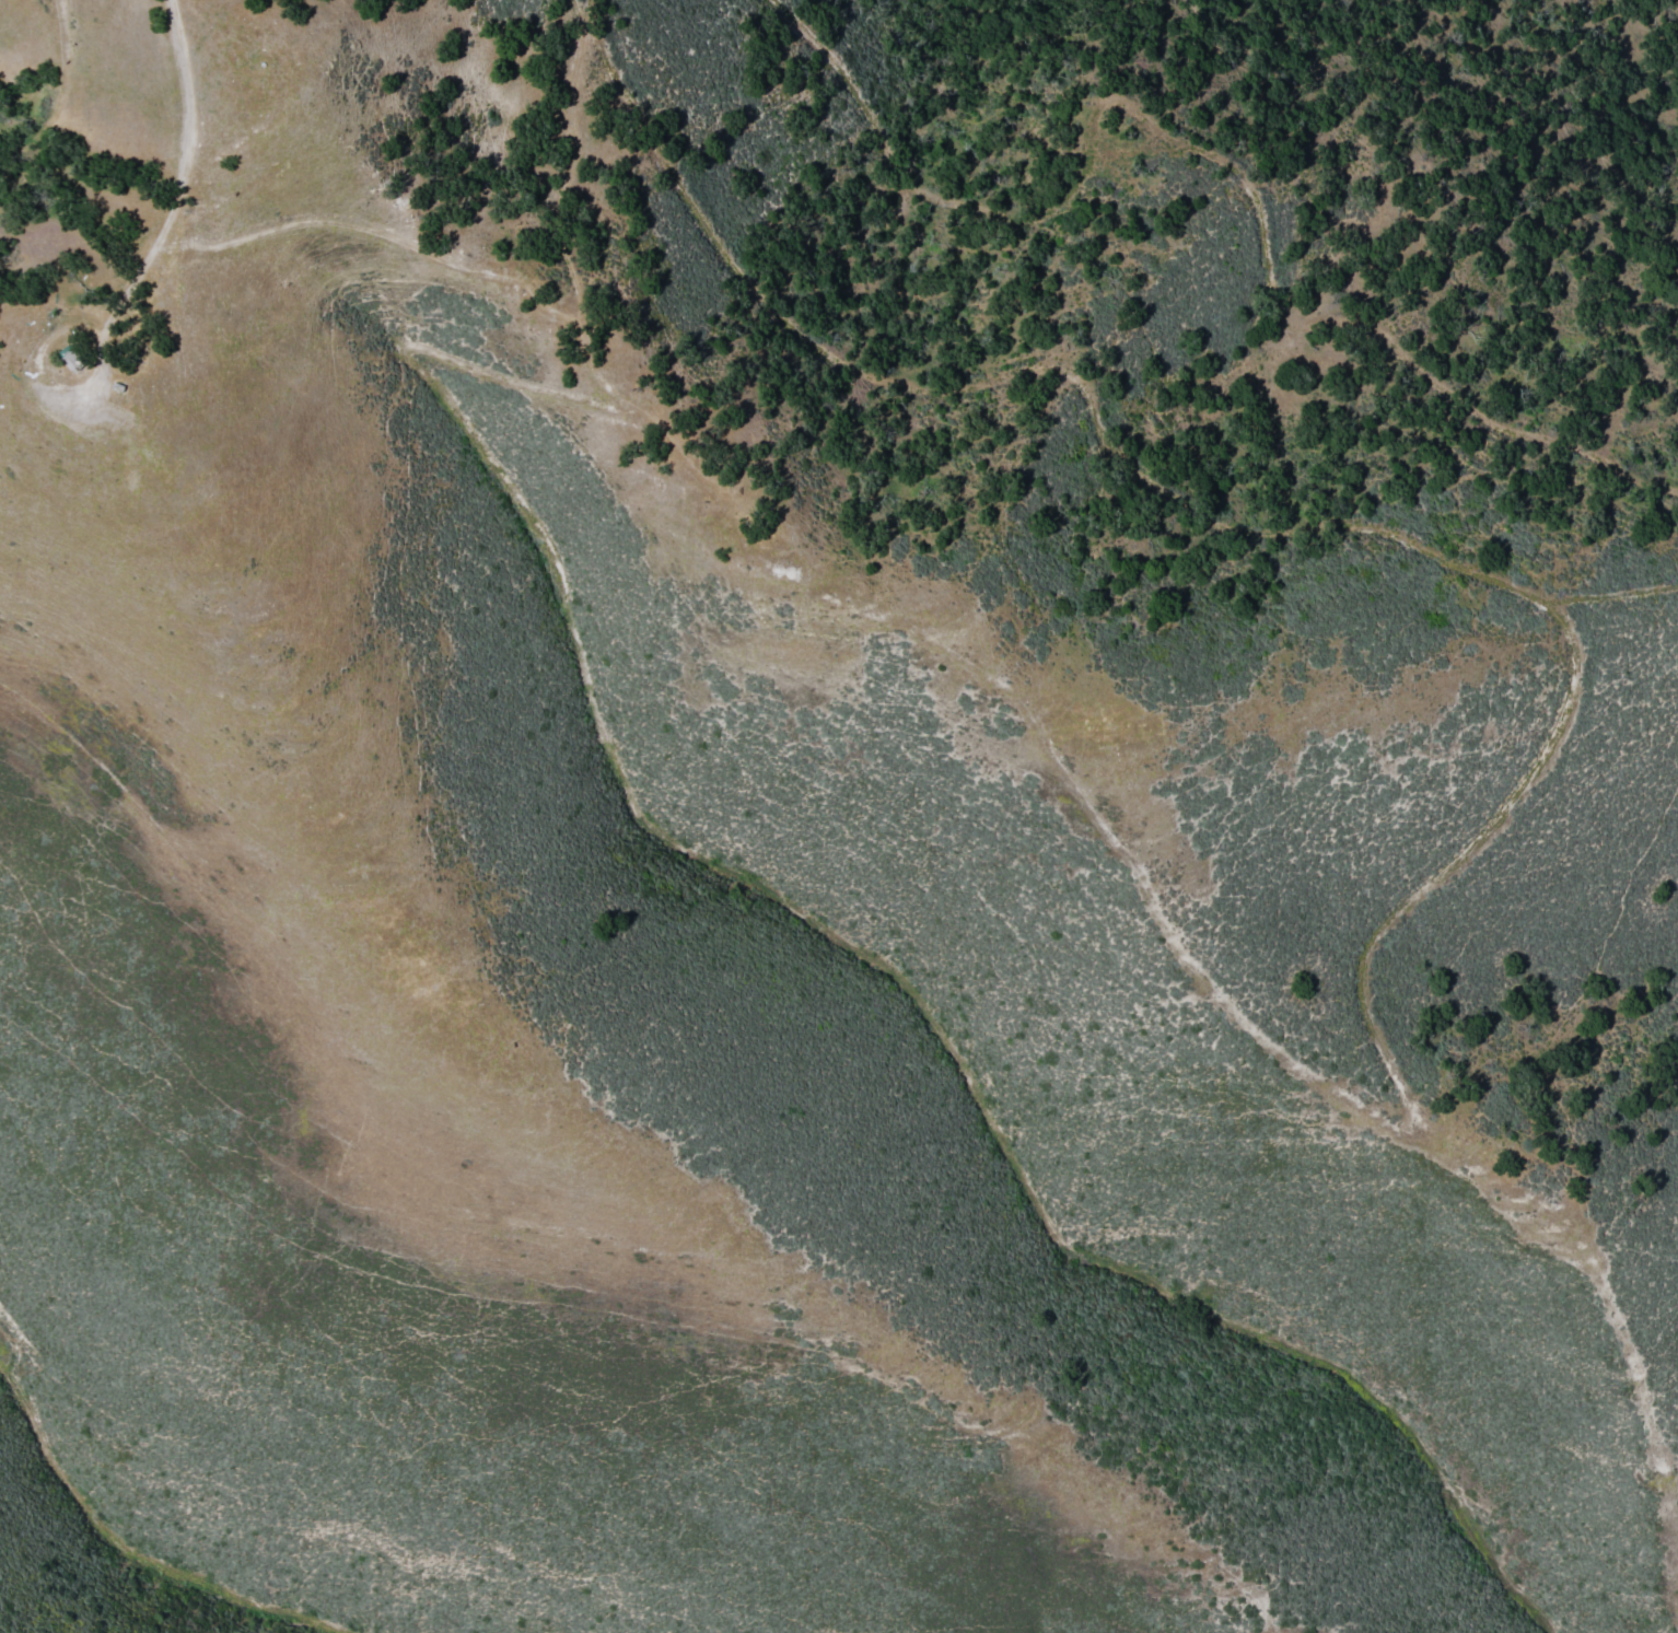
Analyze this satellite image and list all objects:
road: (182, 171)
building: (75, 357)

